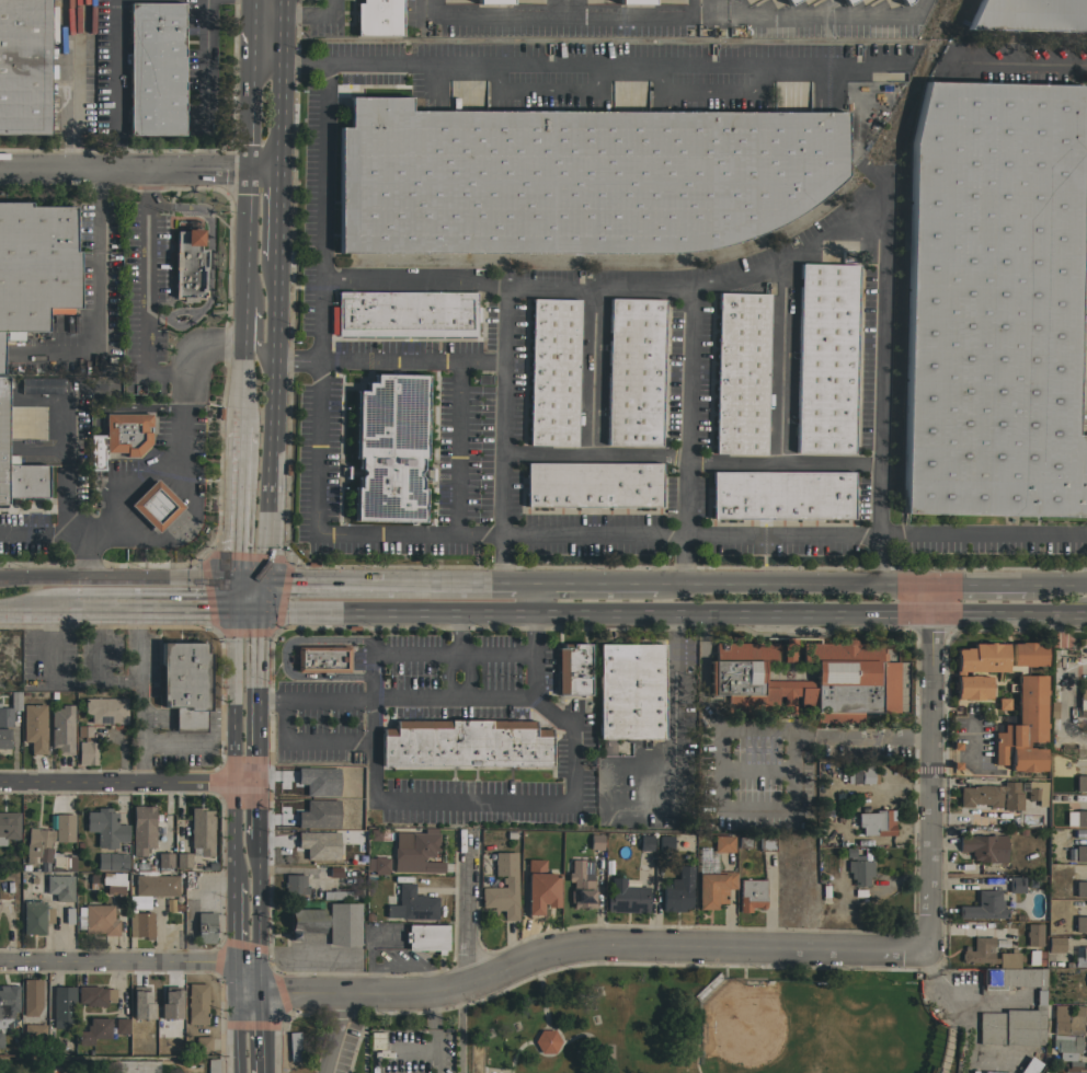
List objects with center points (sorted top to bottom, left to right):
building: (493, 1)
building: (634, 1)
building: (788, 1)
building: (846, 1)
building: (903, 1)
road: (249, 7)
road: (279, 8)
road: (325, 8)
road: (264, 14)
road: (560, 14)
building: (1030, 14)
road: (302, 15)
road: (813, 15)
building: (378, 18)
road: (203, 64)
building: (24, 67)
road: (1011, 67)
building: (155, 68)
road: (861, 68)
road: (115, 84)
road: (276, 92)
road: (319, 143)
road: (856, 149)
road: (244, 160)
road: (137, 169)
building: (574, 177)
road: (273, 216)
road: (794, 253)
building: (35, 264)
road: (96, 265)
building: (187, 265)
road: (369, 279)
road: (617, 288)
road: (145, 289)
building: (993, 302)
building: (405, 313)
road: (241, 318)
road: (252, 345)
building: (825, 358)
road: (781, 359)
road: (386, 360)
road: (591, 369)
building: (552, 371)
building: (634, 371)
building: (741, 373)
road: (239, 377)
building: (39, 388)
road: (267, 422)
building: (126, 432)
road: (179, 435)
building: (389, 448)
road: (454, 449)
road: (593, 451)
road: (780, 461)
building: (18, 465)
building: (593, 485)
road: (65, 492)
building: (781, 495)
road: (236, 504)
building: (156, 506)
road: (179, 530)
road: (42, 531)
road: (319, 532)
road: (591, 535)
road: (982, 536)
road: (497, 561)
road: (878, 561)
road: (117, 577)
traffic signals: (236, 581)
road: (248, 581)
traffic signals: (261, 582)
road: (378, 584)
road: (503, 585)
road: (519, 585)
road: (592, 585)
road: (766, 585)
road: (906, 586)
road: (979, 586)
road: (1054, 586)
road: (234, 595)
road: (260, 595)
road: (530, 599)
road: (934, 599)
road: (34, 605)
road: (151, 605)
traffic signals: (234, 608)
road: (247, 608)
traffic signals: (260, 608)
road: (357, 612)
road: (731, 612)
road: (1010, 612)
road: (493, 613)
road: (530, 634)
road: (456, 638)
building: (7, 643)
road: (100, 644)
road: (137, 644)
building: (788, 649)
road: (430, 657)
building: (321, 659)
road: (233, 662)
building: (976, 668)
building: (572, 669)
road: (530, 677)
road: (101, 682)
building: (185, 684)
road: (458, 684)
building: (802, 688)
building: (630, 691)
road: (258, 692)
road: (458, 692)
road: (393, 699)
building: (1082, 701)
road: (1061, 704)
building: (10, 709)
building: (105, 709)
building: (1025, 713)
road: (185, 717)
road: (678, 723)
road: (233, 725)
building: (33, 727)
building: (61, 729)
road: (763, 730)
building: (4, 738)
road: (187, 741)
road: (307, 741)
building: (465, 743)
road: (121, 750)
building: (87, 753)
road: (973, 753)
road: (232, 755)
building: (863, 775)
road: (244, 778)
road: (116, 780)
road: (930, 782)
building: (1080, 783)
building: (322, 786)
building: (1037, 792)
building: (991, 795)
road: (482, 803)
road: (255, 809)
building: (317, 816)
building: (1080, 818)
building: (874, 822)
building: (9, 826)
building: (62, 827)
building: (106, 829)
building: (142, 829)
building: (201, 830)
road: (232, 830)
building: (595, 841)
building: (645, 843)
building: (664, 843)
building: (723, 843)
building: (766, 843)
building: (317, 846)
building: (983, 846)
building: (46, 852)
building: (415, 852)
building: (1080, 853)
building: (183, 859)
building: (164, 861)
building: (112, 862)
building: (377, 864)
building: (858, 867)
building: (335, 872)
building: (510, 881)
building: (114, 882)
building: (155, 884)
building: (294, 884)
building: (581, 884)
building: (1016, 885)
building: (59, 887)
building: (539, 888)
building: (713, 888)
building: (1080, 888)
building: (677, 891)
building: (341, 895)
building: (750, 895)
building: (626, 897)
road: (255, 899)
building: (410, 904)
building: (984, 905)
road: (465, 909)
building: (34, 916)
building: (96, 919)
road: (233, 920)
building: (306, 921)
building: (140, 924)
building: (344, 924)
building: (1080, 924)
building: (206, 927)
building: (1032, 934)
building: (426, 937)
building: (1055, 944)
road: (587, 946)
building: (988, 954)
building: (1034, 957)
traffic signals: (234, 958)
road: (244, 958)
traffic signals: (255, 958)
building: (1080, 958)
road: (117, 959)
road: (234, 974)
road: (245, 974)
road: (255, 974)
building: (1012, 978)
building: (1086, 987)
traffic signals: (234, 991)
road: (245, 991)
traffic signals: (256, 992)
building: (94, 995)
building: (31, 996)
building: (8, 1000)
building: (196, 1003)
building: (139, 1004)
building: (169, 1004)
road: (541, 1005)
building: (62, 1007)
road: (234, 1012)
building: (1068, 1019)
park: (709, 1023)
building: (121, 1025)
building: (1012, 1025)
building: (139, 1027)
building: (94, 1030)
building: (34, 1031)
road: (458, 1031)
road: (259, 1032)
road: (332, 1034)
building: (160, 1036)
road: (559, 1037)
building: (1, 1040)
road: (594, 1040)
building: (546, 1041)
building: (203, 1043)
building: (55, 1045)
building: (294, 1046)
building: (1066, 1046)
building: (1086, 1047)
road: (234, 1053)
road: (515, 1053)
building: (211, 1065)
building: (1029, 1065)
building: (1074, 1066)
building: (994, 1072)
building: (1080, 1072)

